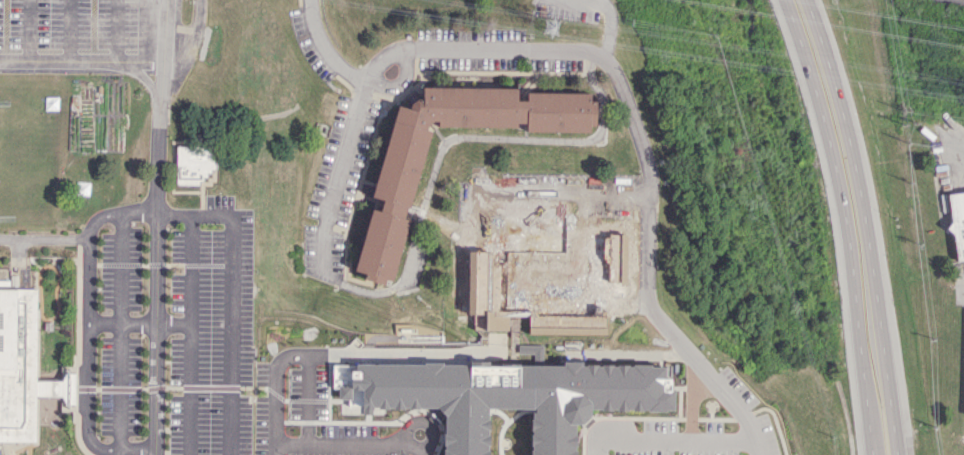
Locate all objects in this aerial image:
road: (606, 8)
road: (164, 43)
road: (189, 47)
road: (324, 49)
road: (81, 64)
road: (146, 82)
road: (641, 146)
road: (963, 150)
building: (193, 163)
building: (399, 191)
road: (563, 192)
road: (172, 214)
building: (957, 222)
road: (846, 223)
road: (865, 224)
road: (44, 237)
road: (324, 241)
road: (232, 243)
road: (156, 271)
road: (124, 318)
road: (122, 321)
road: (87, 331)
building: (23, 367)
road: (185, 389)
road: (273, 391)
building: (963, 395)
building: (507, 396)
road: (666, 435)
road: (287, 443)
road: (320, 444)
road: (138, 448)

